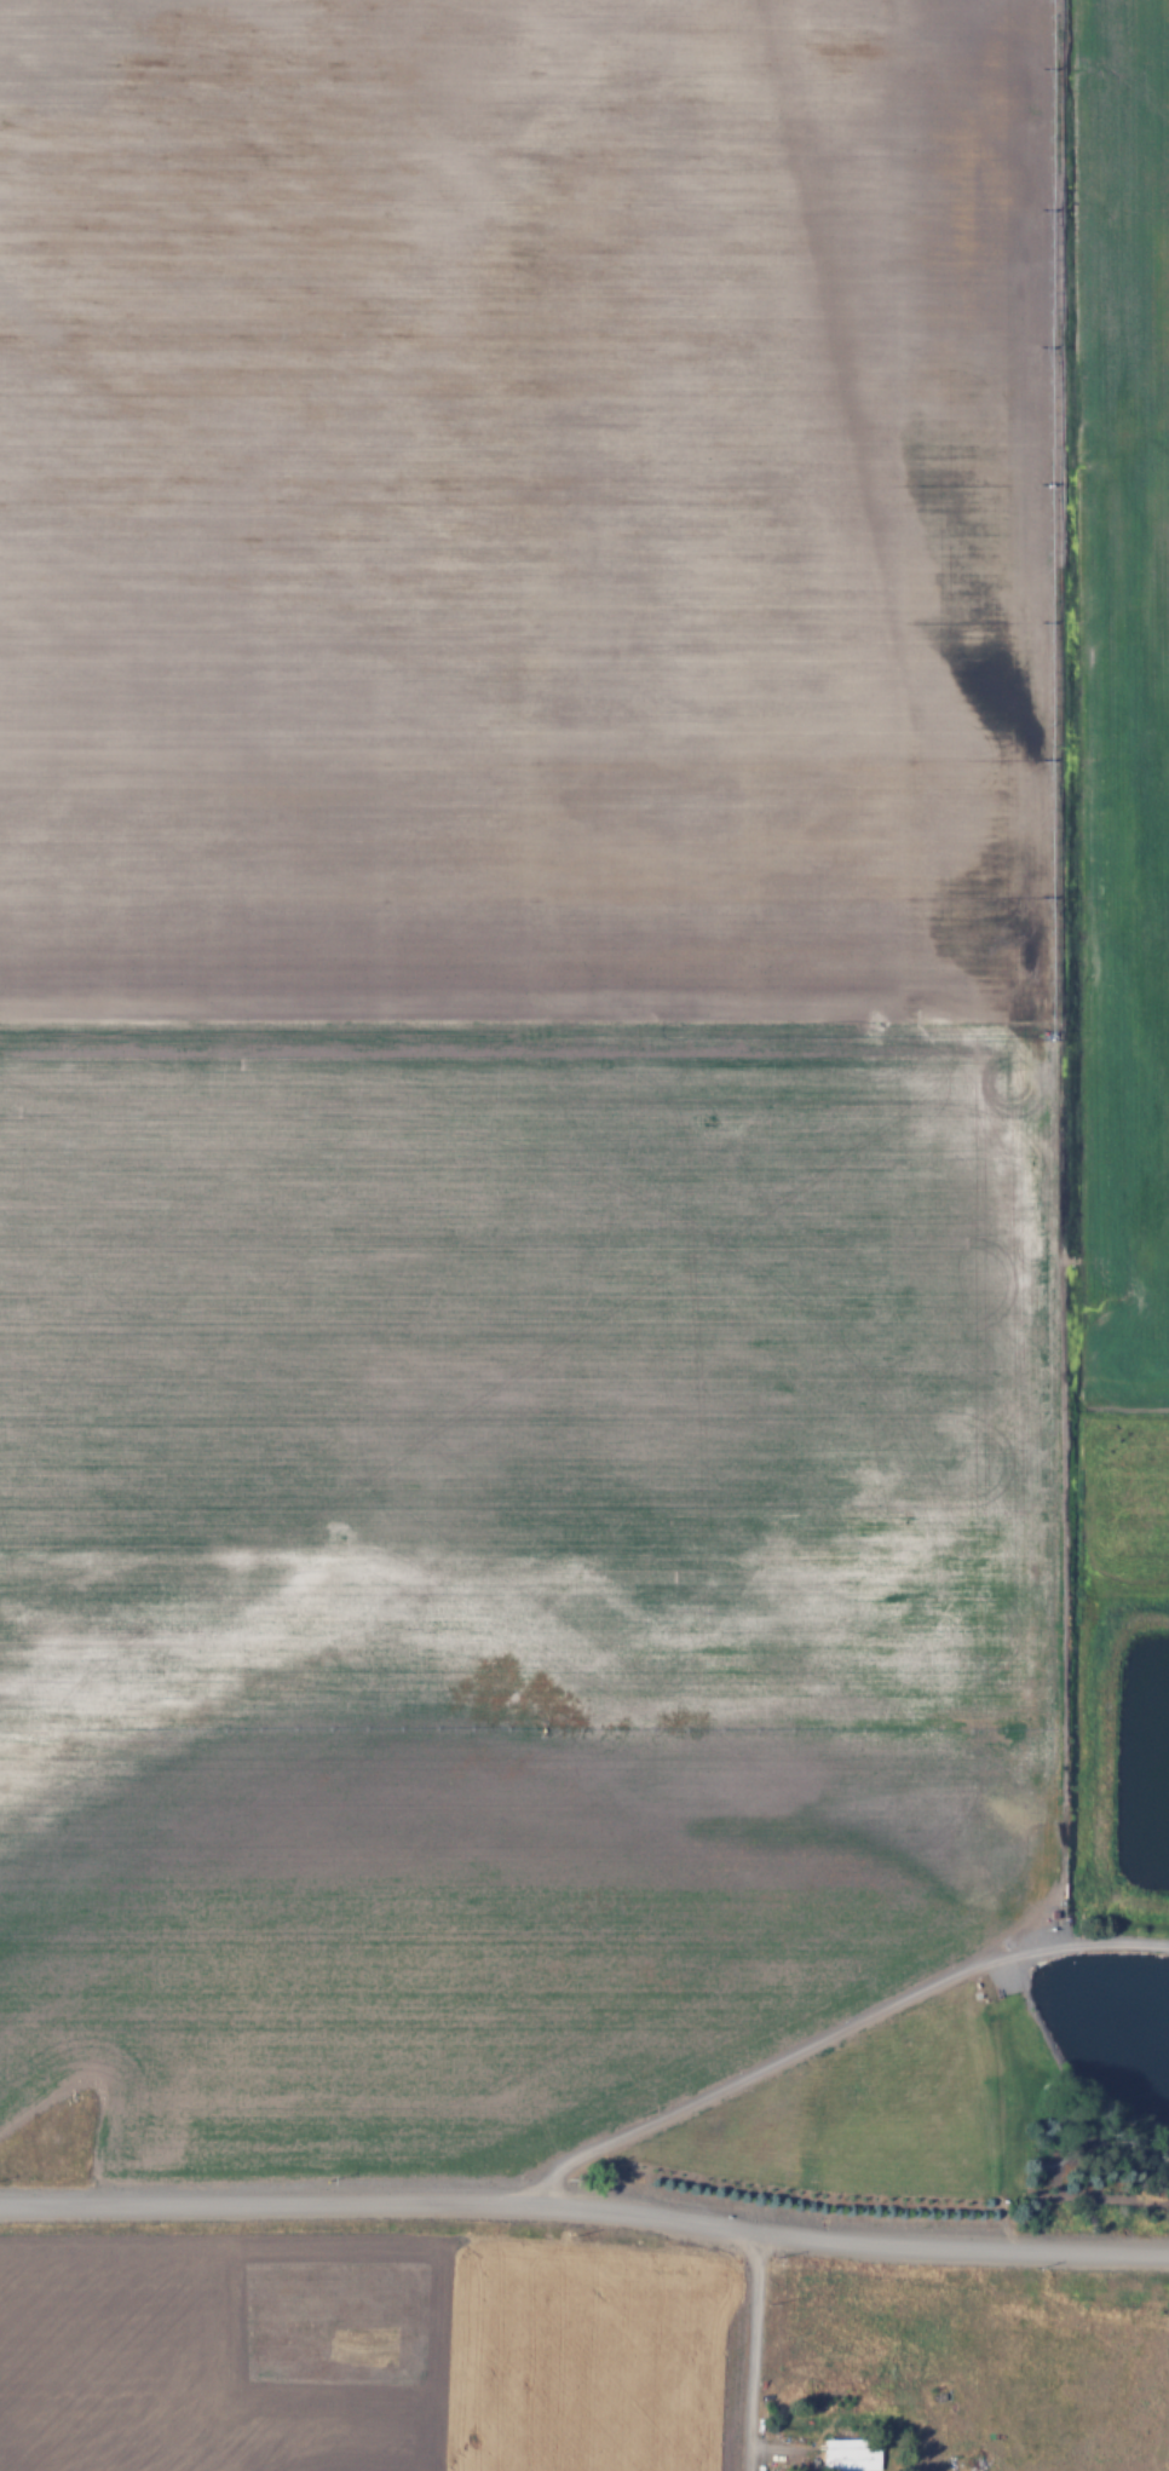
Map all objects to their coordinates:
road: (839, 2033)
road: (586, 2204)
building: (850, 2454)

